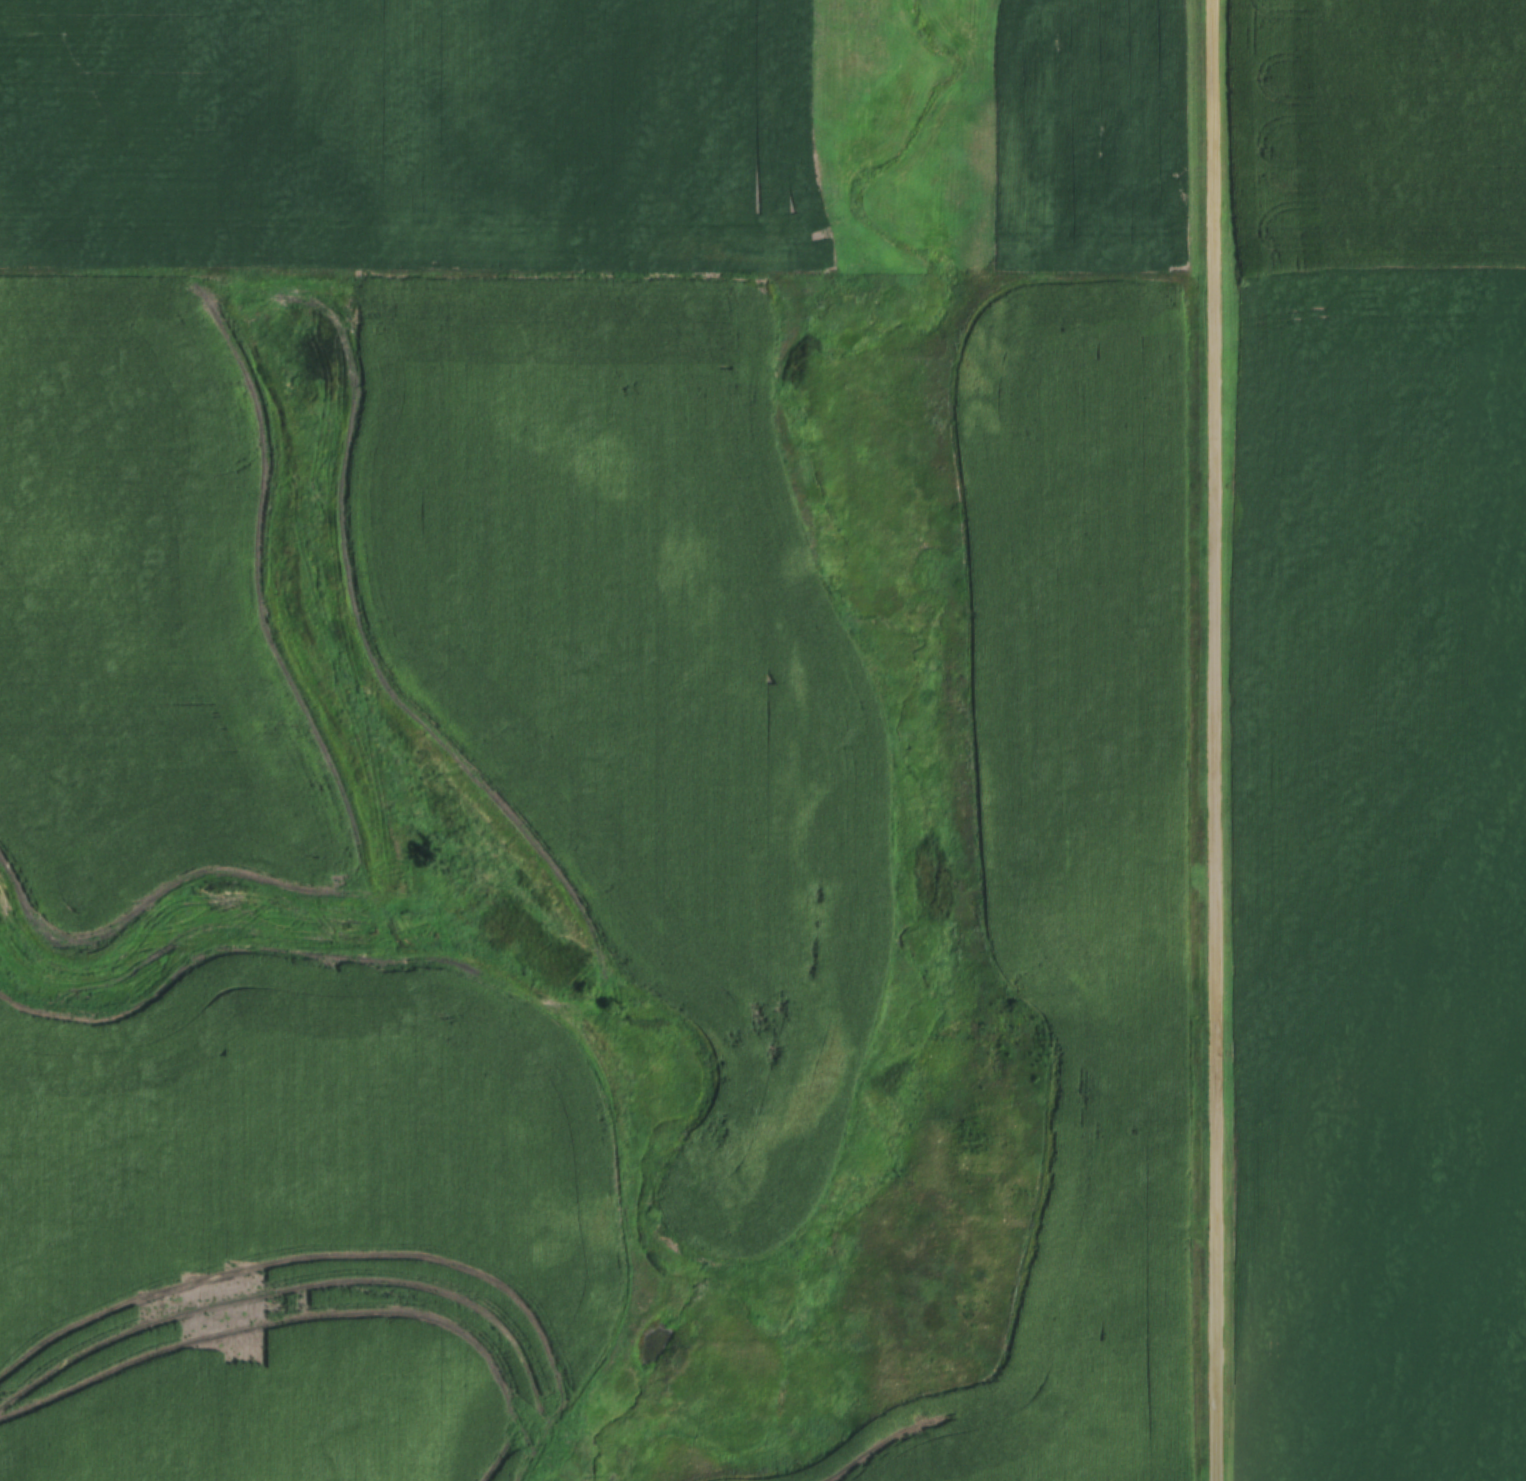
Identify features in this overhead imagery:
road: (1215, 740)

